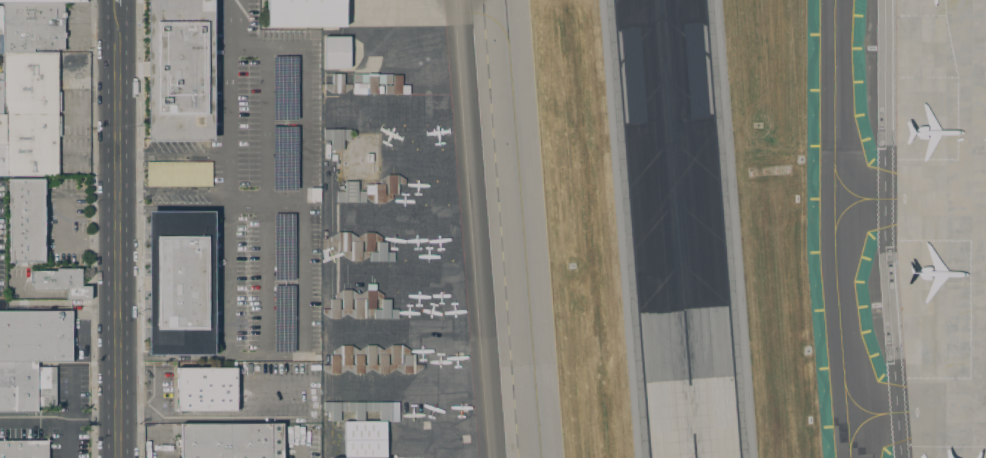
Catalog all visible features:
building: (34, 1)
road: (116, 1)
building: (305, 13)
building: (0, 19)
road: (227, 24)
building: (31, 26)
building: (337, 52)
building: (180, 70)
building: (369, 82)
building: (338, 84)
building: (397, 86)
building: (0, 91)
road: (979, 97)
road: (226, 101)
building: (29, 112)
building: (1, 128)
building: (337, 137)
road: (171, 151)
building: (370, 158)
building: (2, 159)
road: (300, 162)
road: (225, 173)
building: (179, 174)
airport taxiway: (860, 185)
building: (378, 189)
road: (171, 193)
building: (351, 193)
road: (983, 194)
road: (262, 198)
road: (263, 200)
road: (117, 212)
airport taxiway: (859, 214)
building: (26, 221)
airport: (650, 227)
road: (478, 228)
airport taxiway: (521, 229)
airport runway: (675, 229)
airport taxiway: (835, 229)
road: (885, 229)
building: (355, 244)
building: (381, 254)
road: (225, 274)
building: (62, 282)
building: (181, 283)
building: (365, 304)
building: (385, 311)
building: (36, 336)
road: (171, 356)
road: (263, 356)
helipad: (457, 359)
building: (372, 360)
building: (26, 387)
building: (206, 389)
road: (70, 395)
airport taxiway: (871, 402)
helipad: (459, 408)
road: (34, 421)
road: (92, 422)
building: (364, 426)
helipad: (420, 427)
airport taxiway: (873, 427)
road: (149, 430)
helipad: (464, 438)
road: (67, 440)
road: (117, 440)
building: (231, 441)
road: (302, 446)
building: (24, 449)

